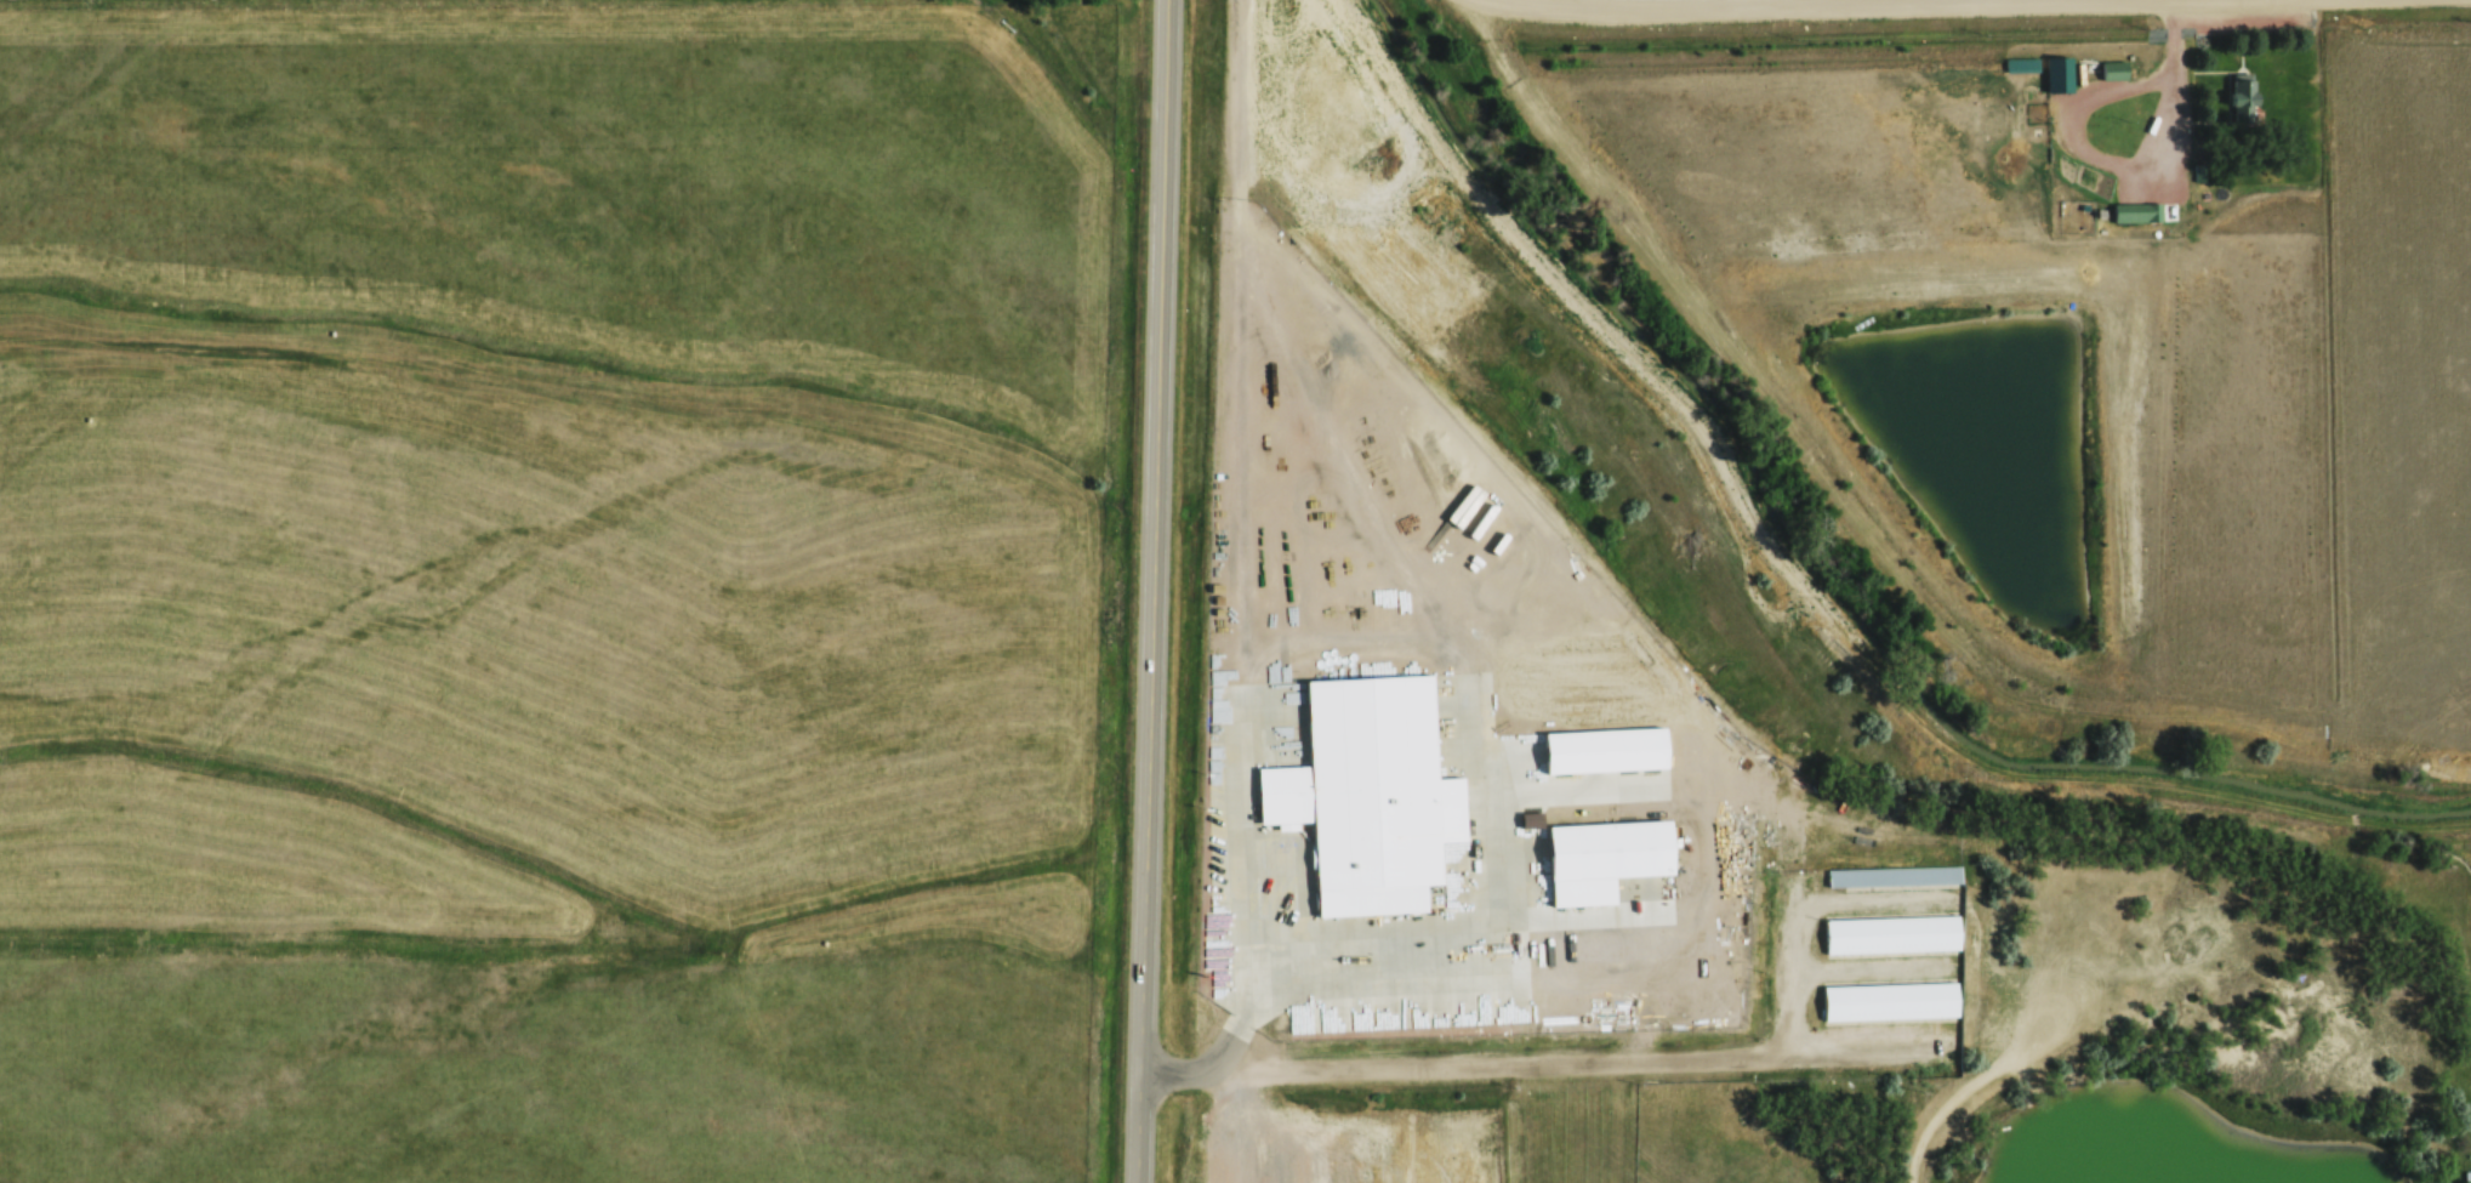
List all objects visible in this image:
road: (1834, 8)
building: (2114, 69)
building: (2059, 74)
road: (2173, 84)
building: (2244, 98)
road: (1235, 103)
building: (2136, 212)
road: (1154, 591)
building: (1596, 752)
building: (1370, 792)
building: (1605, 857)
building: (1895, 875)
building: (1890, 935)
road: (1792, 945)
building: (1884, 1001)
road: (1196, 1065)
road: (1958, 1098)
building: (1303, 1128)
building: (1225, 1165)
building: (2467, 1176)

